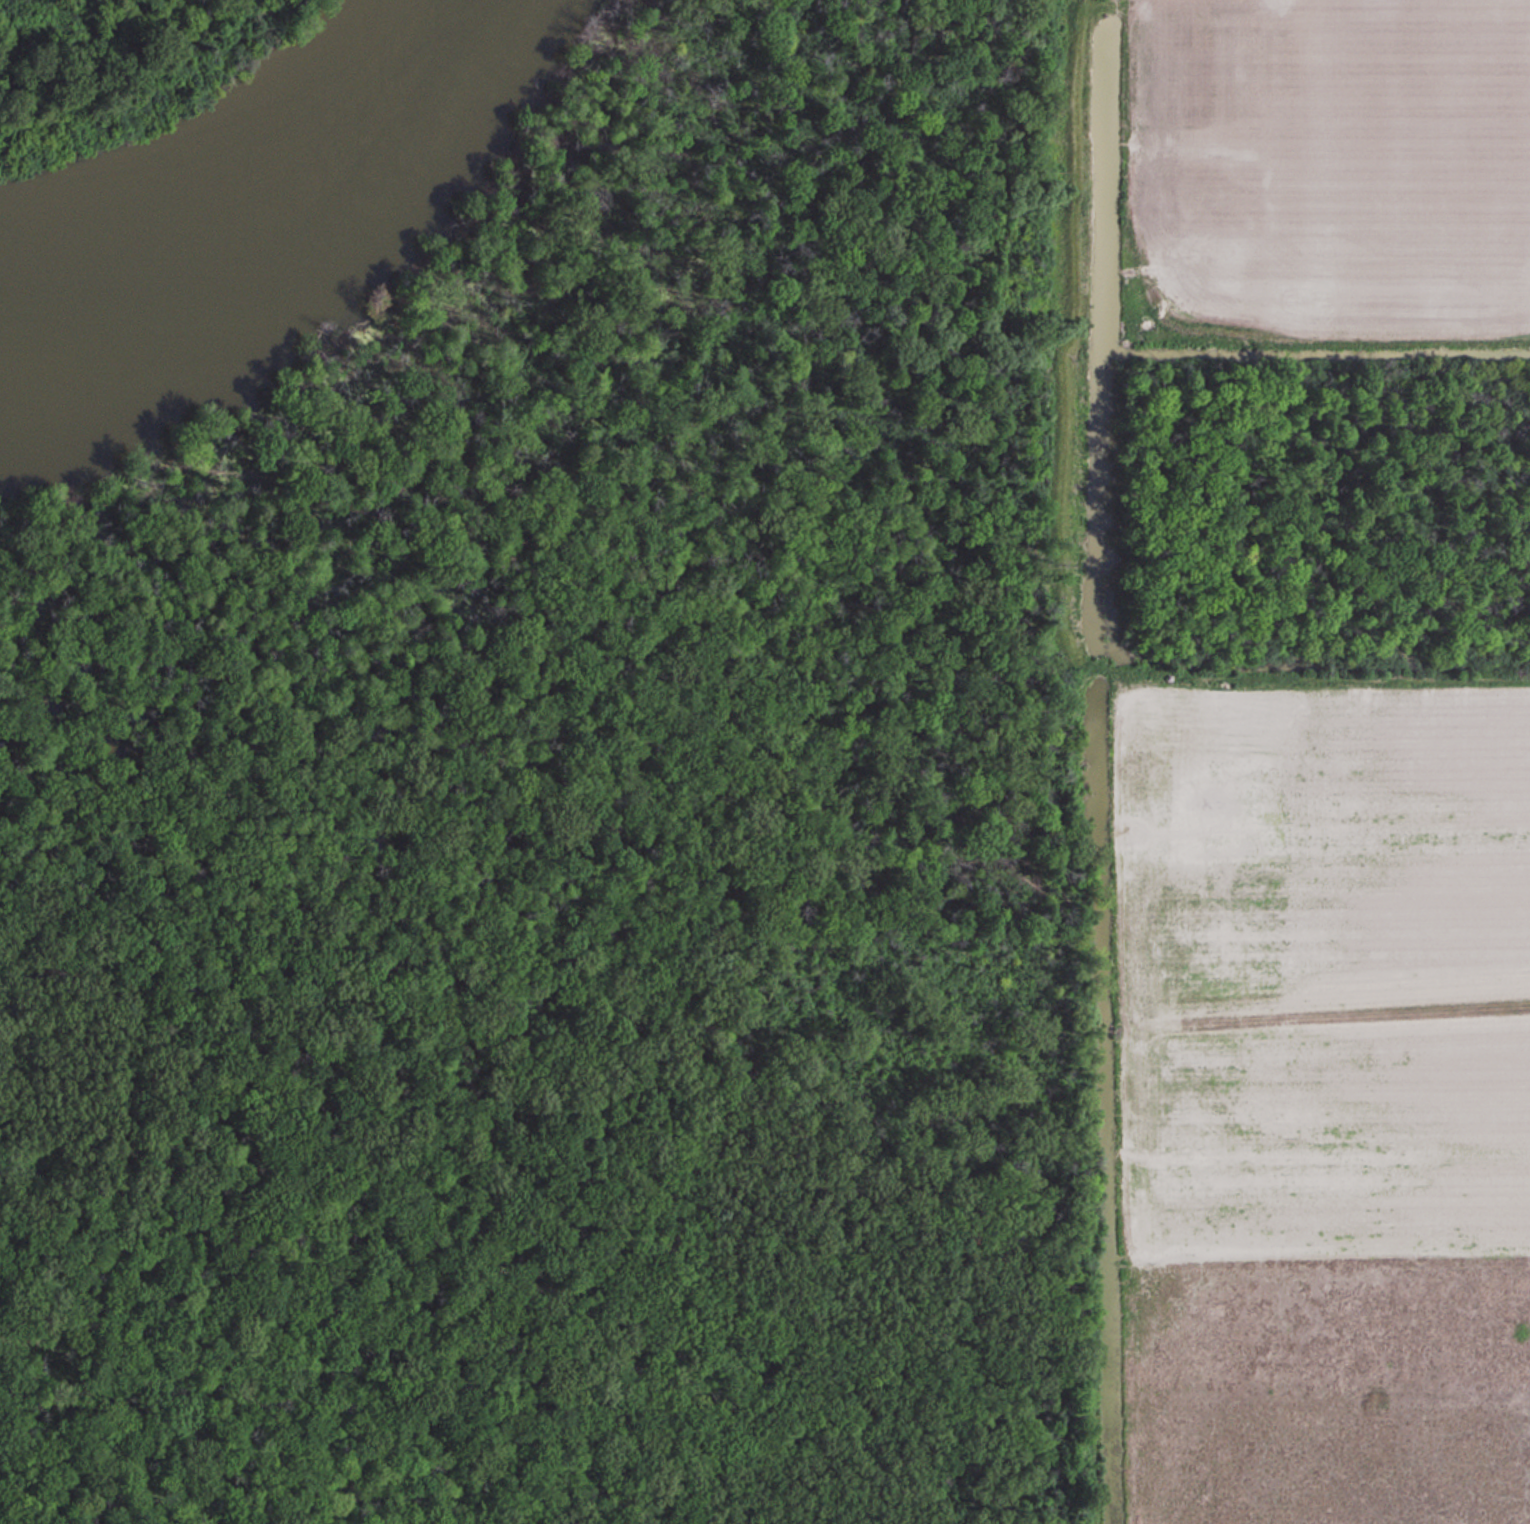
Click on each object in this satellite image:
river: (257, 215)

